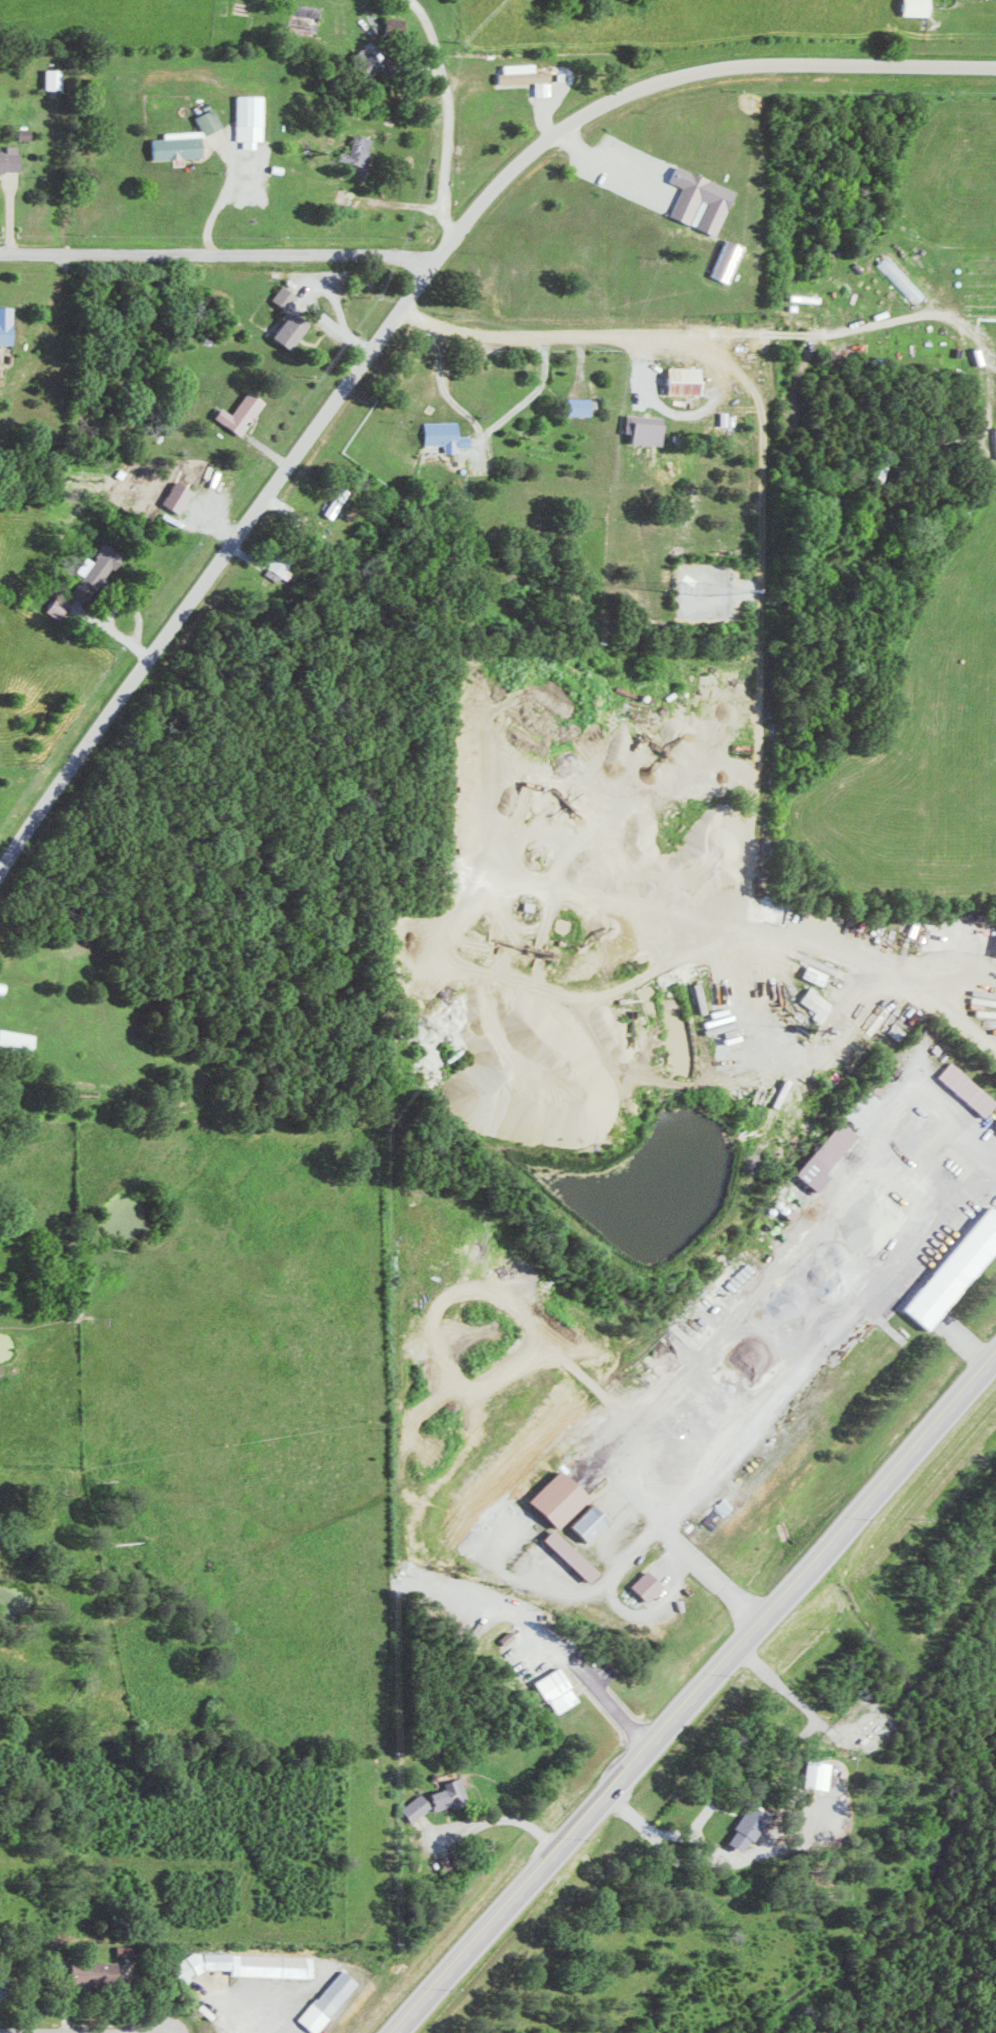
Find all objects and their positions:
building: (920, 7)
building: (369, 61)
building: (59, 78)
road: (446, 115)
building: (254, 119)
building: (213, 121)
building: (182, 145)
building: (362, 150)
building: (13, 160)
road: (606, 168)
building: (705, 200)
road: (213, 253)
building: (733, 260)
building: (289, 297)
road: (401, 307)
building: (7, 324)
building: (295, 330)
road: (343, 336)
building: (688, 380)
building: (584, 406)
building: (246, 413)
building: (650, 429)
building: (449, 435)
building: (182, 497)
building: (341, 502)
building: (105, 564)
building: (281, 567)
road: (761, 604)
road: (117, 632)
quarry: (623, 956)
building: (820, 975)
building: (821, 1002)
building: (19, 1041)
building: (972, 1089)
building: (830, 1157)
building: (957, 1271)
building: (563, 1498)
building: (595, 1521)
building: (575, 1555)
building: (651, 1585)
road: (695, 1688)
building: (561, 1690)
building: (823, 1774)
building: (453, 1794)
building: (421, 1807)
building: (752, 1827)
building: (127, 1951)
building: (252, 1964)
building: (97, 1971)
building: (4, 1989)
building: (334, 2001)

